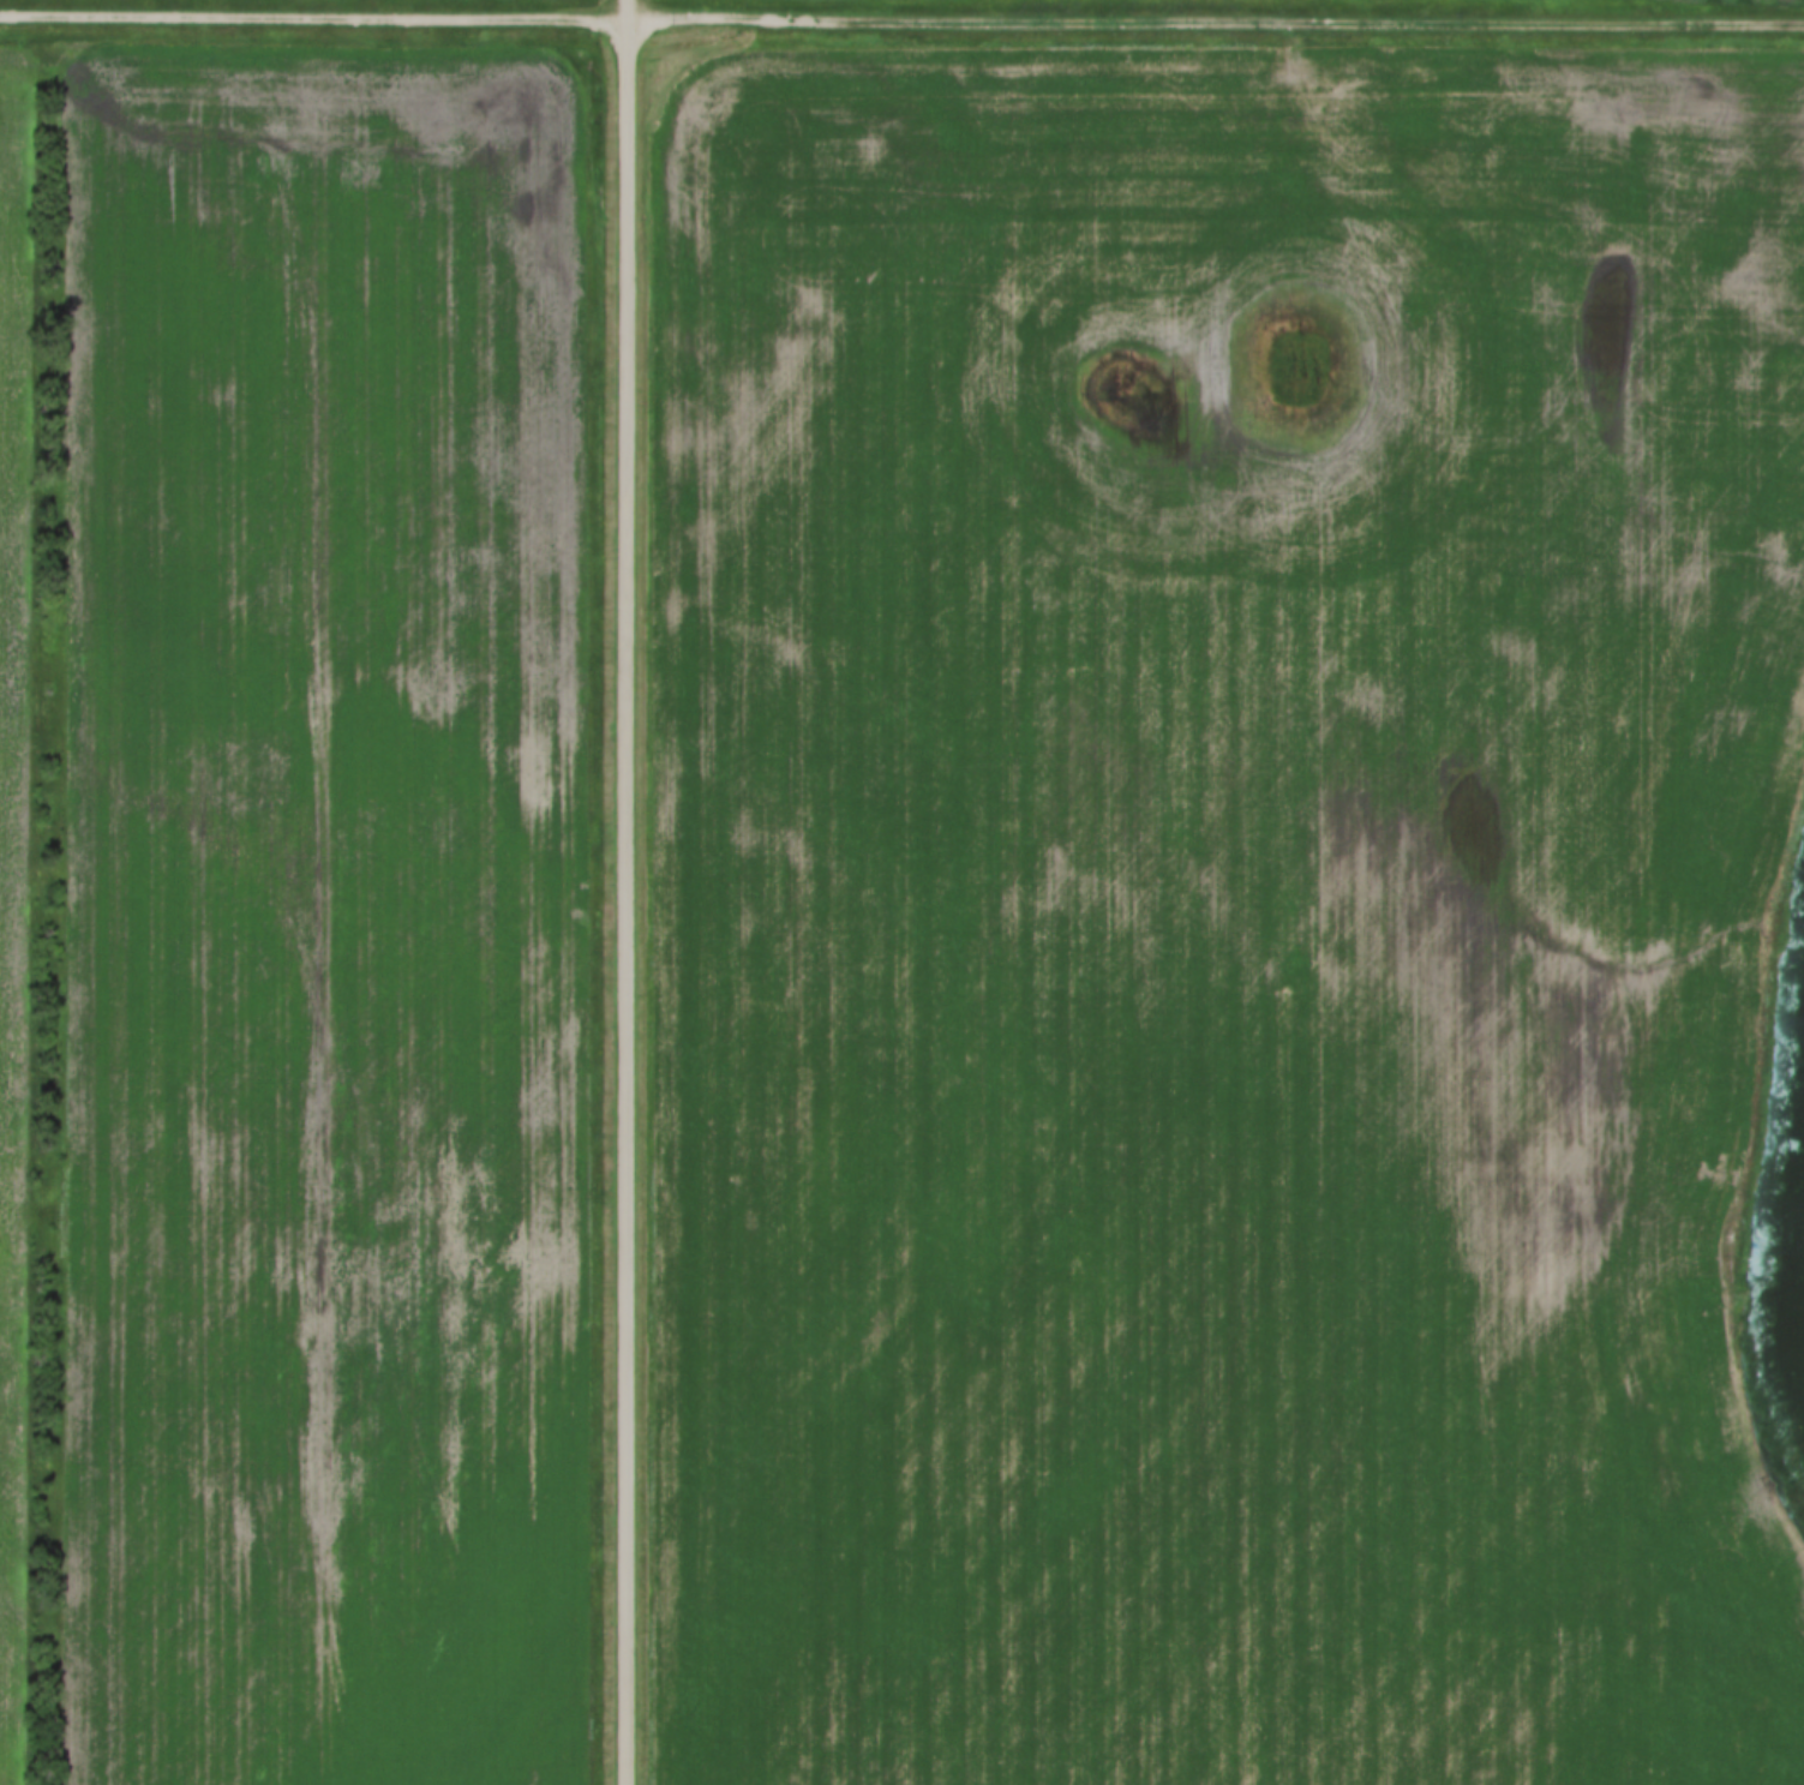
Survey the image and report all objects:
road: (316, 22)
road: (1218, 25)
road: (633, 892)

